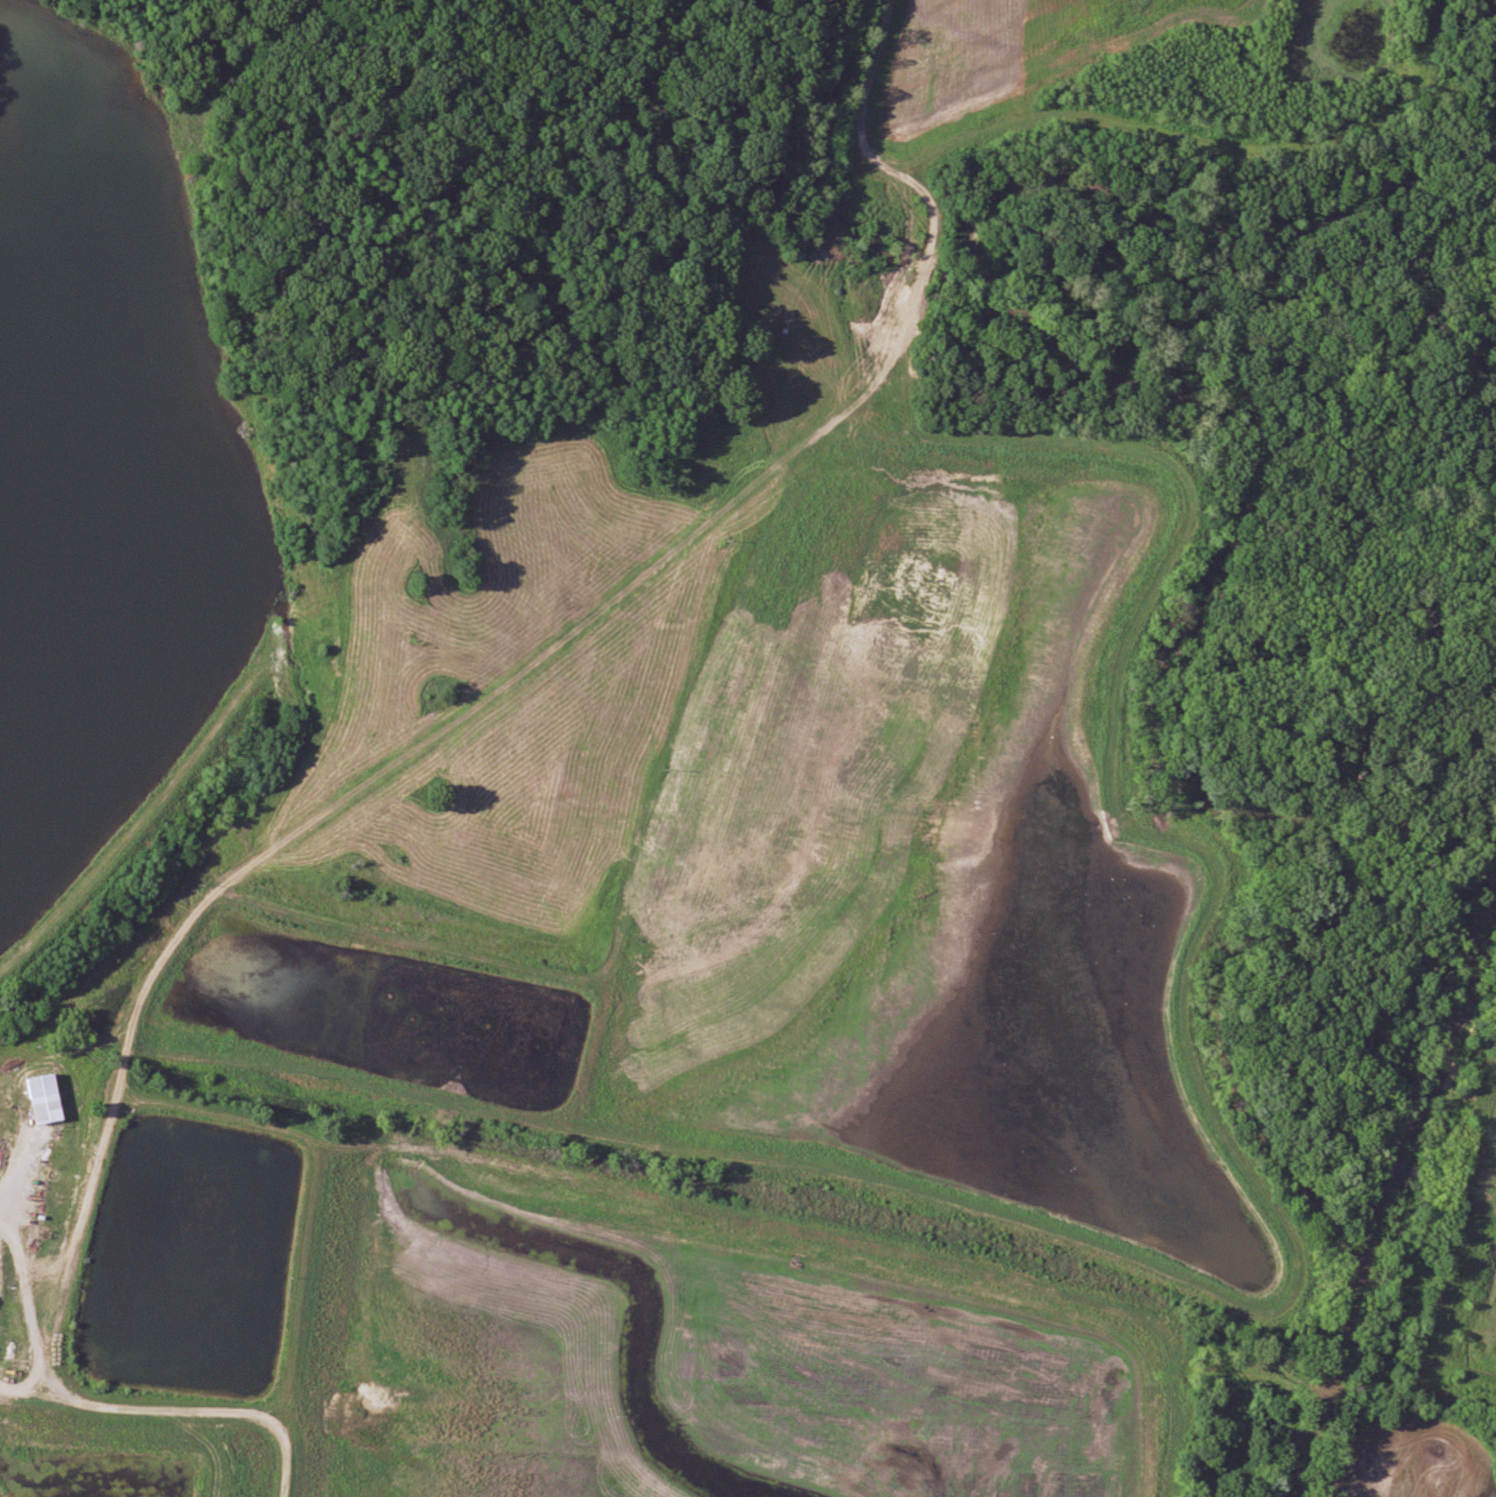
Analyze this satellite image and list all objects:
building: (46, 1099)
road: (16, 1180)
river: (1397, 1196)

